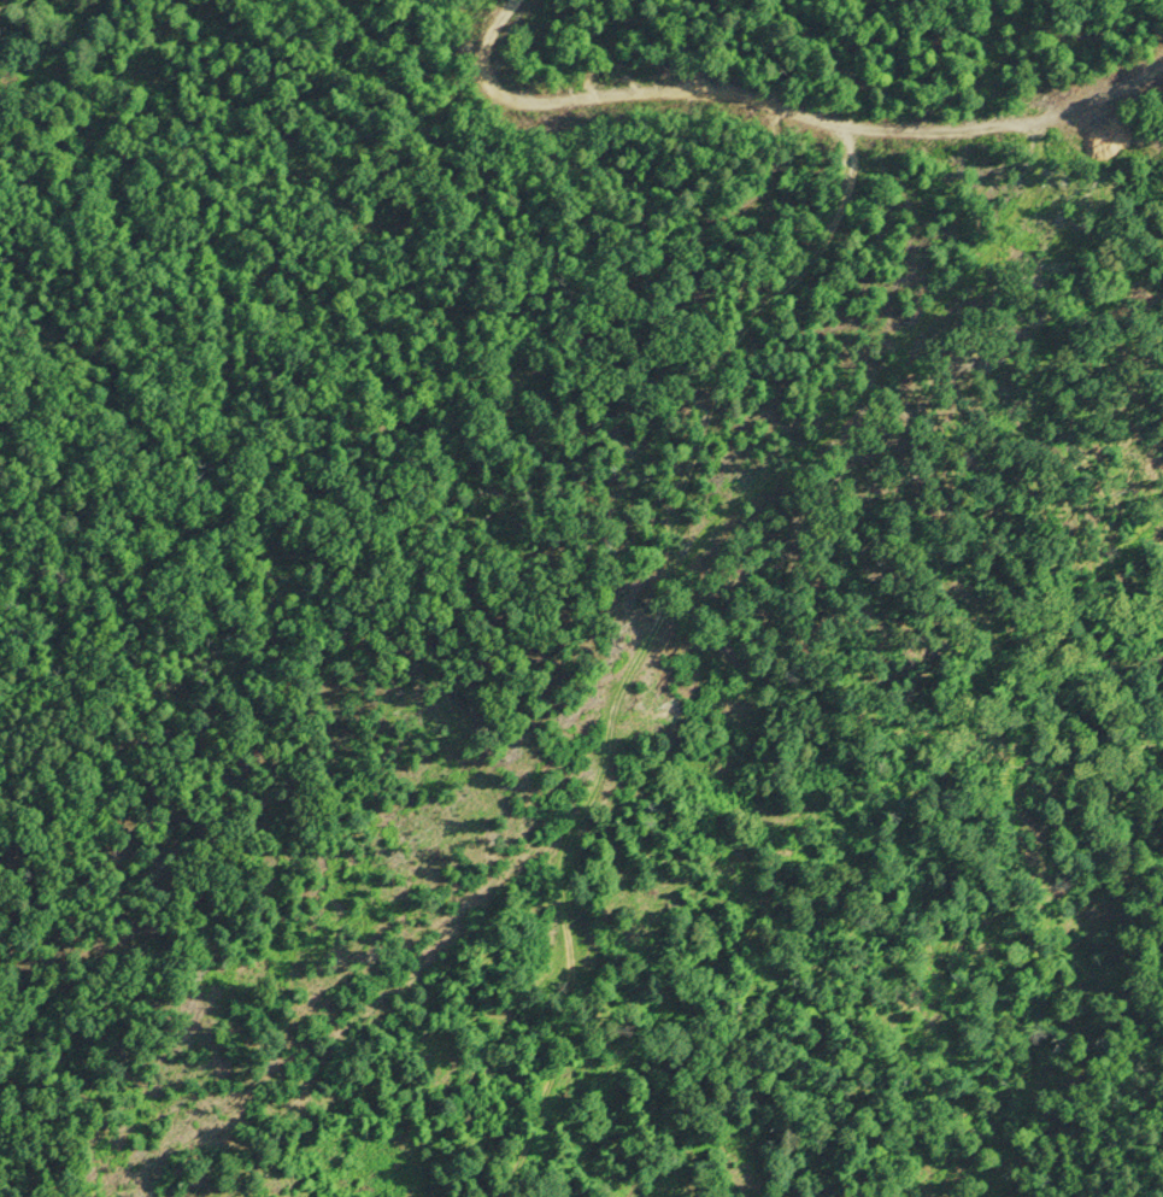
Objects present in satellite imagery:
road: (707, 418)

